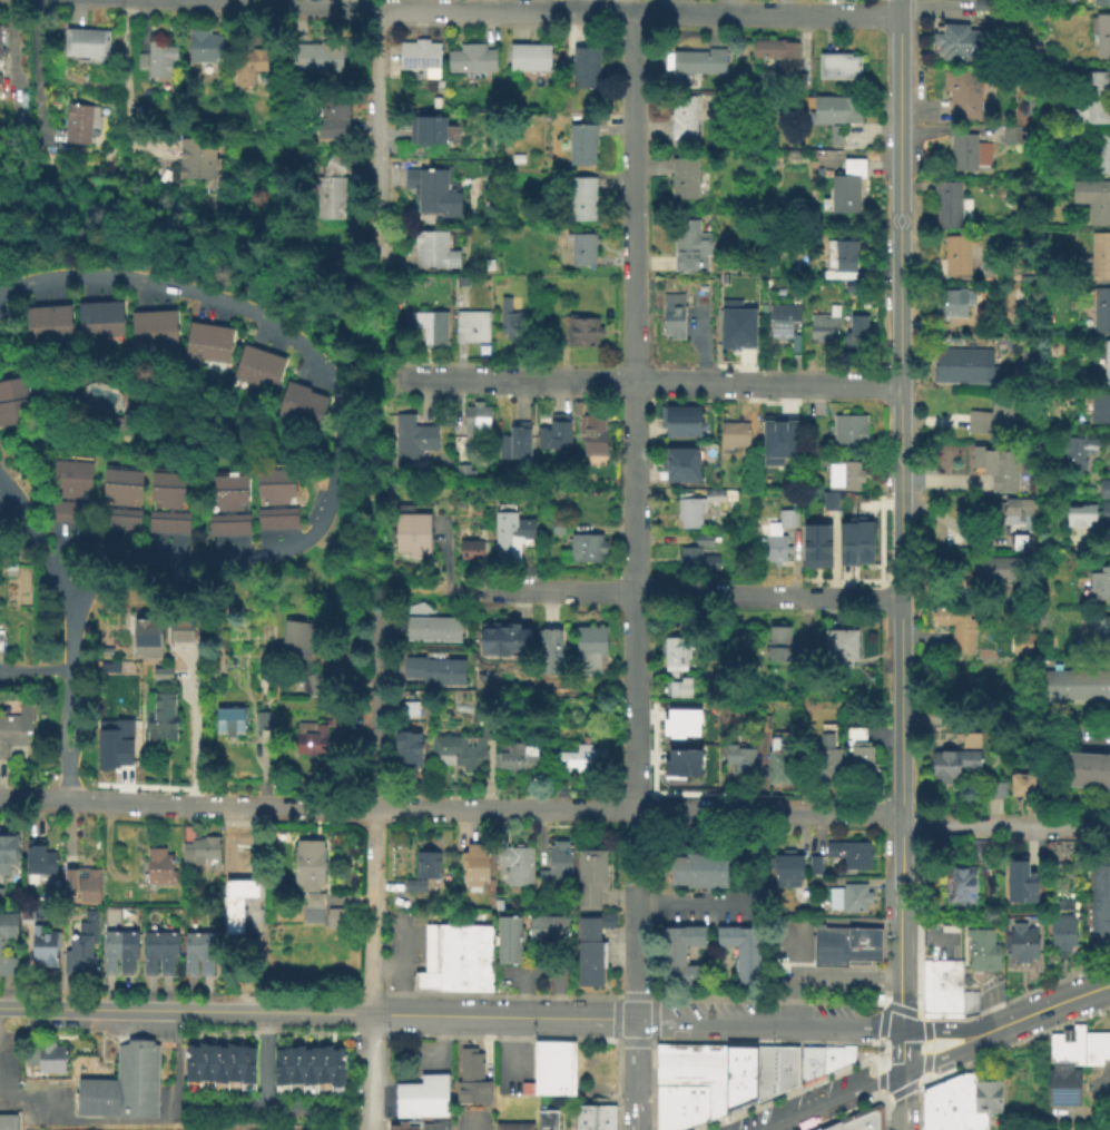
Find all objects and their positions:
building: (955, 0)
road: (301, 2)
road: (370, 2)
building: (1100, 3)
building: (980, 6)
road: (501, 8)
road: (766, 13)
building: (0, 28)
building: (1102, 37)
building: (85, 45)
building: (955, 45)
building: (204, 47)
building: (776, 53)
building: (532, 56)
building: (420, 57)
building: (474, 57)
building: (314, 59)
building: (155, 62)
building: (697, 63)
building: (246, 67)
building: (587, 67)
building: (837, 67)
road: (33, 69)
building: (798, 82)
road: (124, 92)
building: (962, 96)
building: (1093, 101)
building: (834, 111)
building: (682, 119)
building: (332, 120)
building: (79, 124)
building: (430, 128)
building: (1011, 135)
building: (585, 144)
road: (373, 145)
building: (1100, 153)
building: (824, 154)
building: (963, 154)
building: (520, 158)
building: (194, 164)
building: (682, 180)
building: (846, 189)
building: (328, 190)
building: (433, 191)
building: (585, 197)
road: (633, 197)
building: (1092, 202)
building: (947, 207)
building: (694, 244)
road: (900, 245)
building: (433, 250)
building: (581, 250)
building: (956, 258)
building: (1100, 258)
building: (838, 263)
building: (743, 279)
building: (461, 283)
building: (811, 285)
building: (849, 291)
building: (950, 306)
building: (1101, 312)
building: (671, 317)
building: (783, 318)
building: (87, 322)
building: (109, 322)
building: (511, 322)
building: (824, 325)
building: (58, 326)
building: (430, 326)
building: (36, 327)
building: (470, 328)
building: (743, 328)
building: (581, 331)
building: (164, 332)
building: (141, 333)
road: (376, 333)
building: (855, 336)
building: (194, 344)
building: (217, 347)
building: (959, 363)
building: (247, 366)
building: (1106, 366)
building: (267, 373)
road: (509, 380)
road: (729, 384)
road: (862, 386)
building: (11, 391)
building: (291, 403)
road: (342, 405)
building: (1107, 409)
building: (13, 414)
building: (312, 414)
building: (995, 415)
building: (475, 422)
building: (679, 423)
building: (111, 425)
building: (592, 431)
building: (557, 433)
road: (635, 433)
building: (848, 433)
building: (737, 438)
building: (782, 438)
building: (415, 439)
building: (517, 442)
building: (1077, 453)
building: (996, 464)
building: (678, 466)
building: (465, 470)
building: (843, 478)
building: (1103, 489)
building: (60, 493)
building: (79, 494)
building: (717, 495)
building: (110, 500)
building: (285, 501)
building: (129, 502)
building: (266, 502)
building: (833, 502)
building: (158, 504)
building: (731, 504)
building: (177, 505)
building: (216, 505)
building: (236, 507)
building: (691, 511)
building: (1006, 512)
building: (276, 517)
building: (1088, 518)
building: (167, 528)
building: (557, 528)
building: (414, 532)
building: (509, 538)
building: (777, 538)
building: (1016, 540)
road: (39, 541)
building: (864, 541)
building: (703, 542)
building: (846, 543)
building: (815, 544)
road: (900, 544)
road: (81, 548)
building: (474, 550)
building: (586, 550)
building: (695, 562)
building: (12, 567)
building: (1003, 567)
building: (1099, 586)
building: (996, 588)
road: (405, 591)
road: (635, 591)
road: (626, 592)
road: (852, 596)
building: (957, 622)
building: (429, 628)
building: (1100, 629)
building: (180, 630)
building: (147, 632)
building: (299, 637)
building: (1, 640)
building: (502, 640)
building: (1020, 642)
building: (777, 646)
building: (593, 647)
building: (838, 648)
road: (72, 651)
building: (552, 651)
building: (674, 656)
building: (439, 669)
road: (36, 671)
building: (161, 672)
building: (317, 679)
building: (1049, 686)
building: (1070, 686)
building: (1092, 686)
building: (1107, 686)
building: (679, 690)
building: (407, 711)
road: (375, 713)
building: (165, 717)
building: (264, 719)
building: (228, 721)
building: (680, 721)
building: (764, 721)
building: (16, 728)
road: (190, 728)
road: (60, 730)
road: (76, 731)
building: (321, 733)
building: (114, 741)
road: (1088, 744)
building: (462, 749)
building: (406, 751)
road: (635, 755)
building: (517, 757)
building: (827, 757)
building: (738, 759)
building: (778, 759)
building: (583, 761)
building: (952, 765)
building: (862, 766)
building: (674, 769)
building: (1086, 769)
road: (63, 784)
building: (1025, 789)
building: (994, 792)
road: (47, 800)
road: (149, 804)
road: (420, 808)
road: (679, 810)
road: (901, 812)
road: (813, 813)
road: (1004, 825)
road: (229, 833)
building: (7, 849)
road: (635, 849)
building: (978, 849)
building: (199, 851)
building: (849, 854)
building: (36, 862)
building: (482, 863)
building: (307, 864)
building: (425, 865)
building: (556, 865)
building: (813, 865)
building: (470, 866)
building: (517, 866)
building: (157, 867)
building: (786, 869)
building: (697, 871)
building: (588, 878)
building: (1020, 880)
building: (68, 881)
building: (413, 886)
building: (88, 888)
building: (959, 888)
building: (1099, 888)
building: (848, 898)
building: (240, 902)
road: (688, 906)
building: (312, 910)
building: (24, 913)
building: (1099, 918)
building: (335, 920)
road: (800, 922)
road: (818, 923)
road: (862, 923)
building: (508, 925)
building: (1061, 926)
building: (532, 930)
building: (547, 930)
building: (559, 930)
road: (709, 931)
building: (1099, 936)
building: (679, 940)
building: (456, 941)
building: (508, 941)
building: (1021, 943)
building: (845, 944)
building: (1, 947)
building: (981, 947)
building: (42, 949)
building: (589, 951)
building: (109, 952)
building: (739, 952)
building: (126, 953)
building: (149, 953)
building: (166, 953)
building: (189, 953)
building: (206, 953)
road: (636, 953)
building: (508, 956)
road: (720, 956)
building: (78, 957)
road: (374, 969)
building: (679, 972)
road: (788, 974)
building: (453, 975)
road: (844, 977)
building: (930, 985)
building: (950, 986)
building: (969, 1001)
road: (1052, 1003)
road: (10, 1005)
road: (196, 1009)
road: (504, 1014)
road: (767, 1022)
road: (947, 1029)
road: (798, 1034)
building: (1096, 1040)
road: (901, 1047)
building: (809, 1053)
road: (950, 1053)
building: (1093, 1055)
building: (50, 1058)
road: (264, 1058)
building: (773, 1058)
building: (662, 1059)
building: (680, 1059)
building: (697, 1059)
building: (715, 1059)
building: (738, 1059)
building: (835, 1059)
building: (190, 1063)
building: (204, 1063)
building: (218, 1063)
building: (232, 1064)
building: (245, 1064)
building: (307, 1065)
building: (279, 1067)
building: (293, 1067)
building: (321, 1067)
building: (335, 1067)
building: (1064, 1069)
building: (551, 1070)
building: (808, 1071)
road: (637, 1073)
building: (471, 1075)
building: (688, 1079)
building: (785, 1079)
road: (797, 1084)
building: (122, 1085)
building: (764, 1087)
building: (423, 1089)
road: (1101, 1089)
building: (737, 1092)
road: (901, 1098)
road: (826, 1100)
building: (978, 1102)
building: (714, 1103)
building: (695, 1106)
building: (942, 1106)
road: (264, 1107)
building: (669, 1108)
building: (420, 1109)
parking lot: (472, 1117)
building: (580, 1117)
building: (599, 1118)
building: (863, 1118)
building: (873, 1118)
building: (546, 1120)
road: (478, 1121)
building: (849, 1121)
building: (8, 1122)
road: (137, 1123)
building: (511, 1126)
building: (829, 1126)
building: (434, 1127)
building: (31, 1129)
building: (815, 1129)

